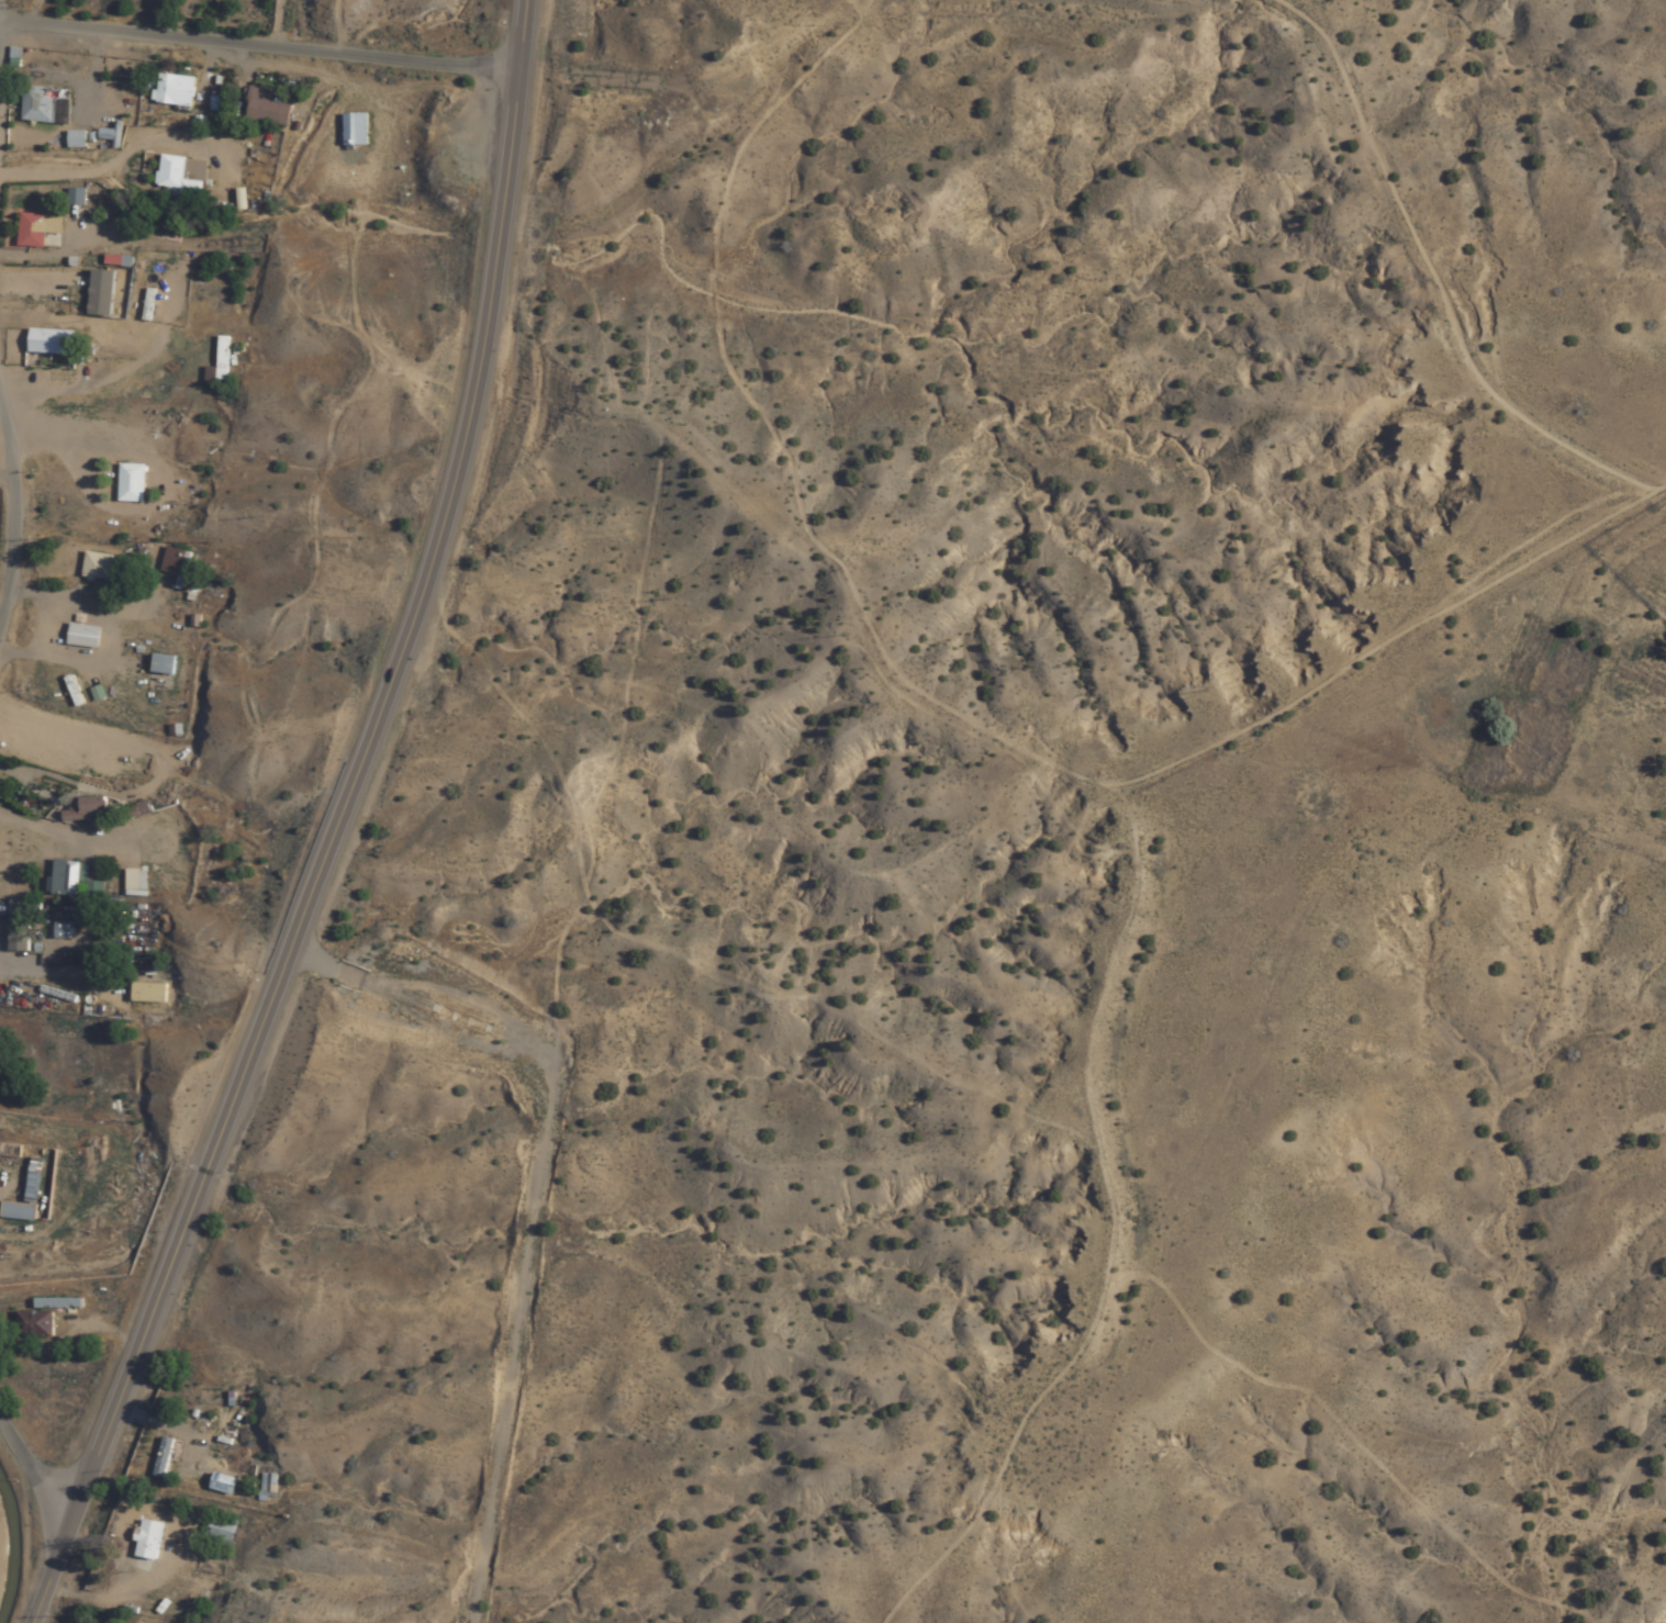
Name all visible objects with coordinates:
building: (70, 7)
road: (306, 27)
road: (260, 51)
building: (174, 91)
building: (44, 105)
building: (265, 110)
building: (355, 130)
building: (75, 139)
building: (180, 177)
building: (76, 197)
building: (36, 230)
building: (29, 288)
road: (485, 331)
building: (51, 343)
building: (222, 358)
building: (131, 483)
road: (7, 552)
building: (172, 562)
building: (97, 568)
building: (163, 665)
road: (177, 724)
building: (91, 807)
building: (72, 880)
building: (21, 925)
building: (63, 930)
building: (148, 994)
road: (217, 1138)
building: (8, 1149)
building: (32, 1182)
building: (18, 1211)
building: (43, 1317)
building: (167, 1458)
building: (268, 1481)
road: (30, 1492)
building: (222, 1532)

